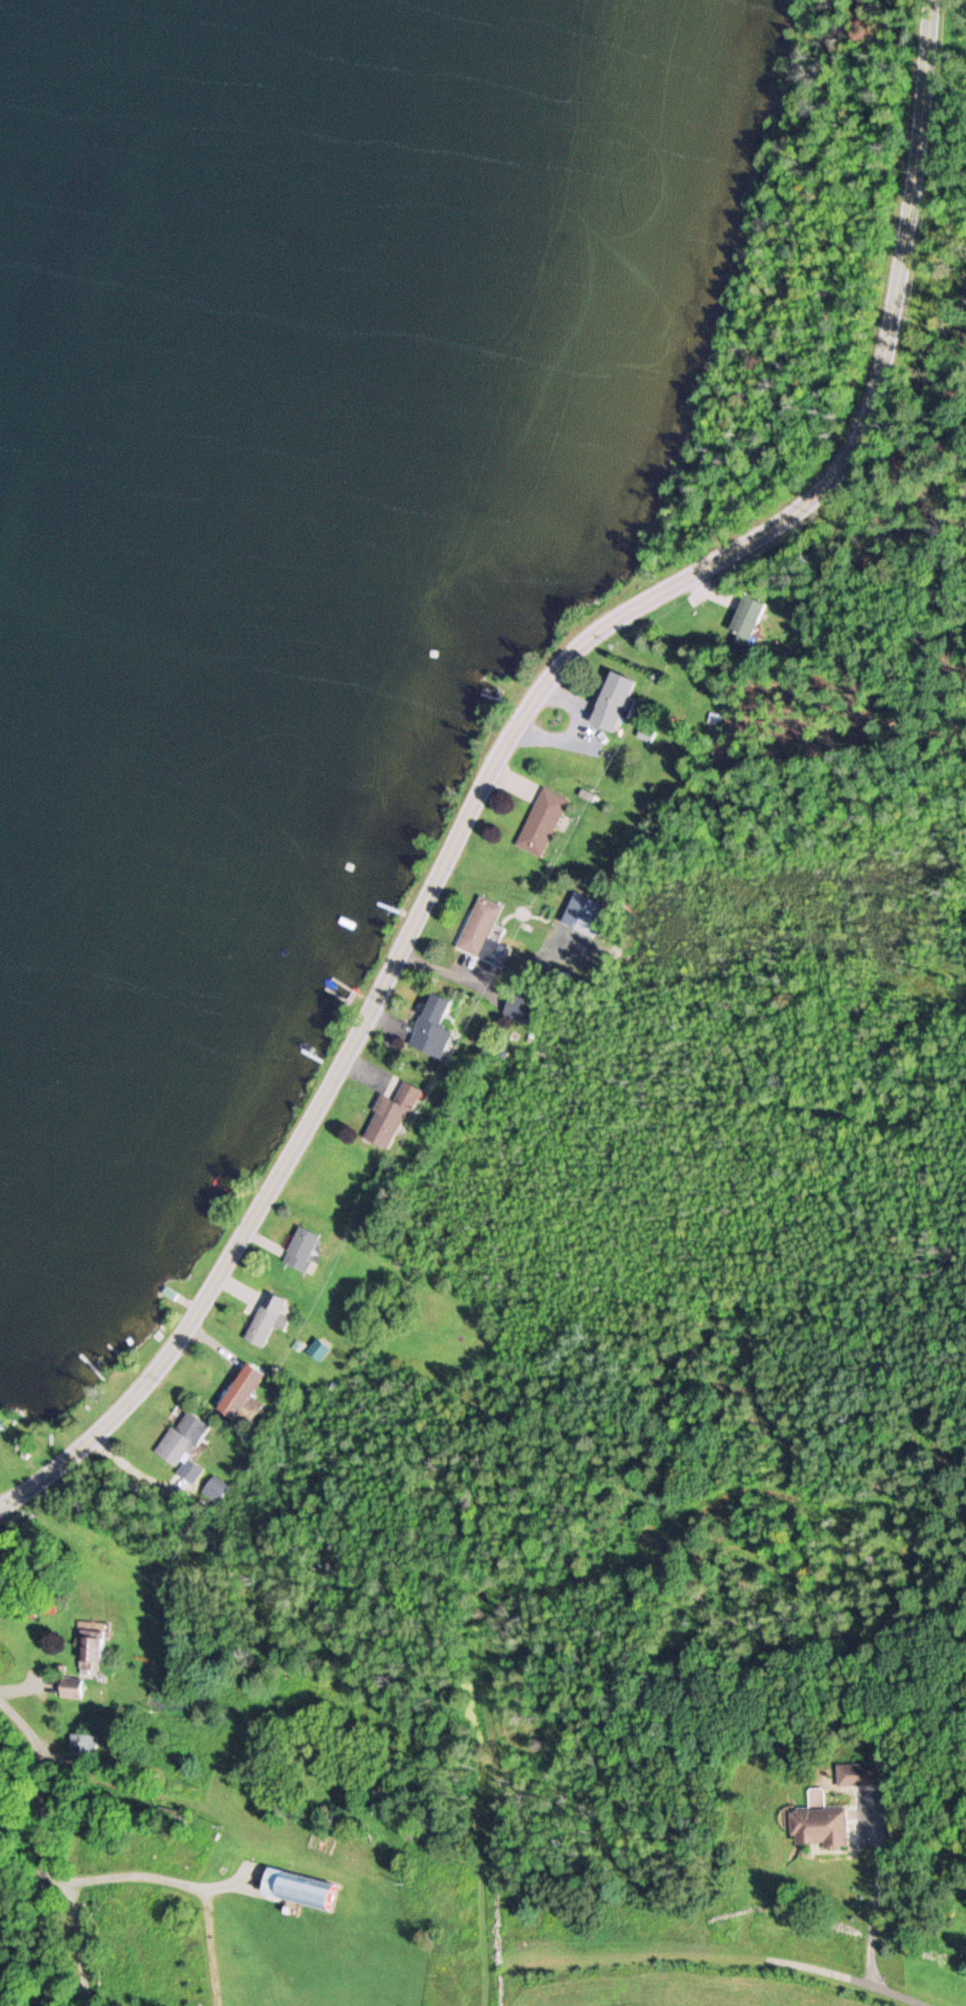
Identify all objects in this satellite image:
building: (745, 619)
building: (491, 694)
building: (610, 699)
road: (503, 746)
building: (541, 821)
building: (582, 913)
building: (478, 926)
building: (521, 1007)
building: (430, 1026)
building: (389, 1116)
building: (300, 1248)
building: (266, 1318)
building: (317, 1349)
building: (242, 1395)
building: (180, 1438)
building: (189, 1470)
building: (215, 1487)
building: (90, 1652)
building: (70, 1687)
building: (81, 1745)
road: (44, 1756)
building: (858, 1774)
building: (816, 1825)
building: (299, 1888)
road: (846, 1979)

